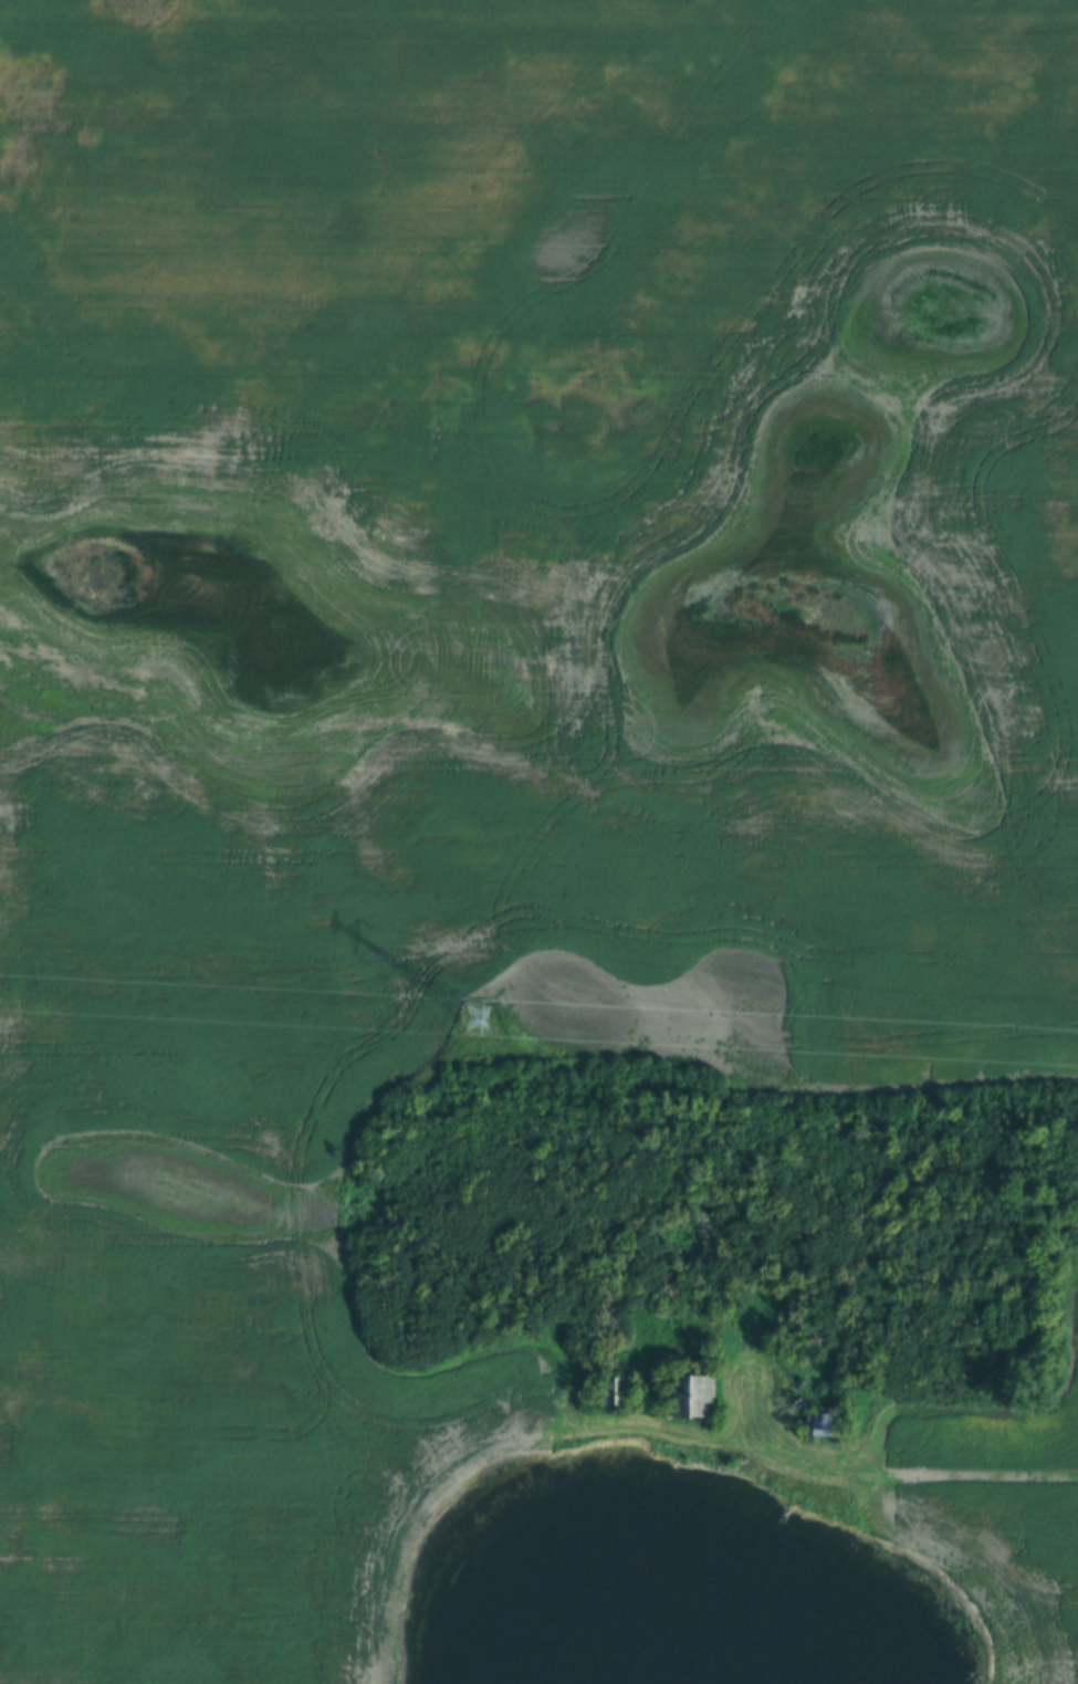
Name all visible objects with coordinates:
power tower: (473, 1015)
building: (688, 1395)
building: (820, 1427)
road: (878, 1477)

